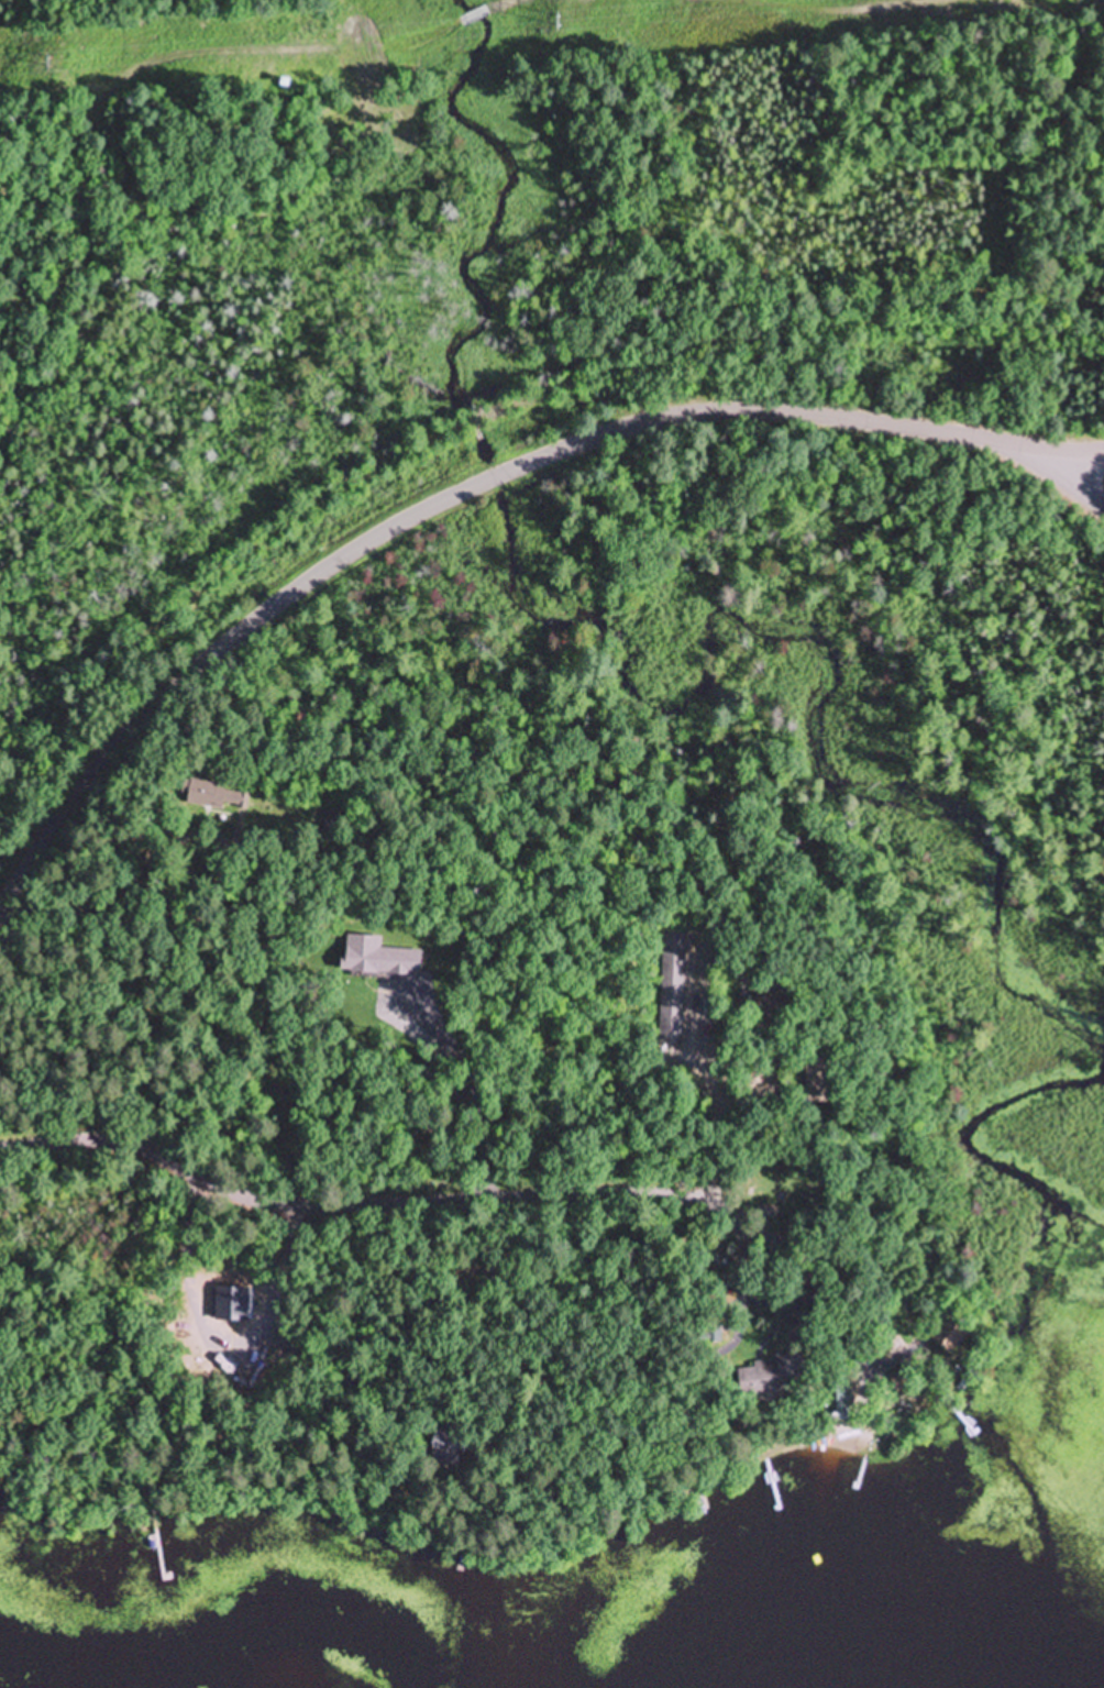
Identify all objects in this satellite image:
power tower: (561, 21)
power tower: (49, 62)
road: (1057, 449)
road: (1057, 475)
road: (428, 508)
building: (217, 797)
building: (672, 989)
building: (817, 1085)
road: (301, 1206)
building: (949, 1338)
building: (769, 1378)
building: (898, 1386)
building: (448, 1446)

